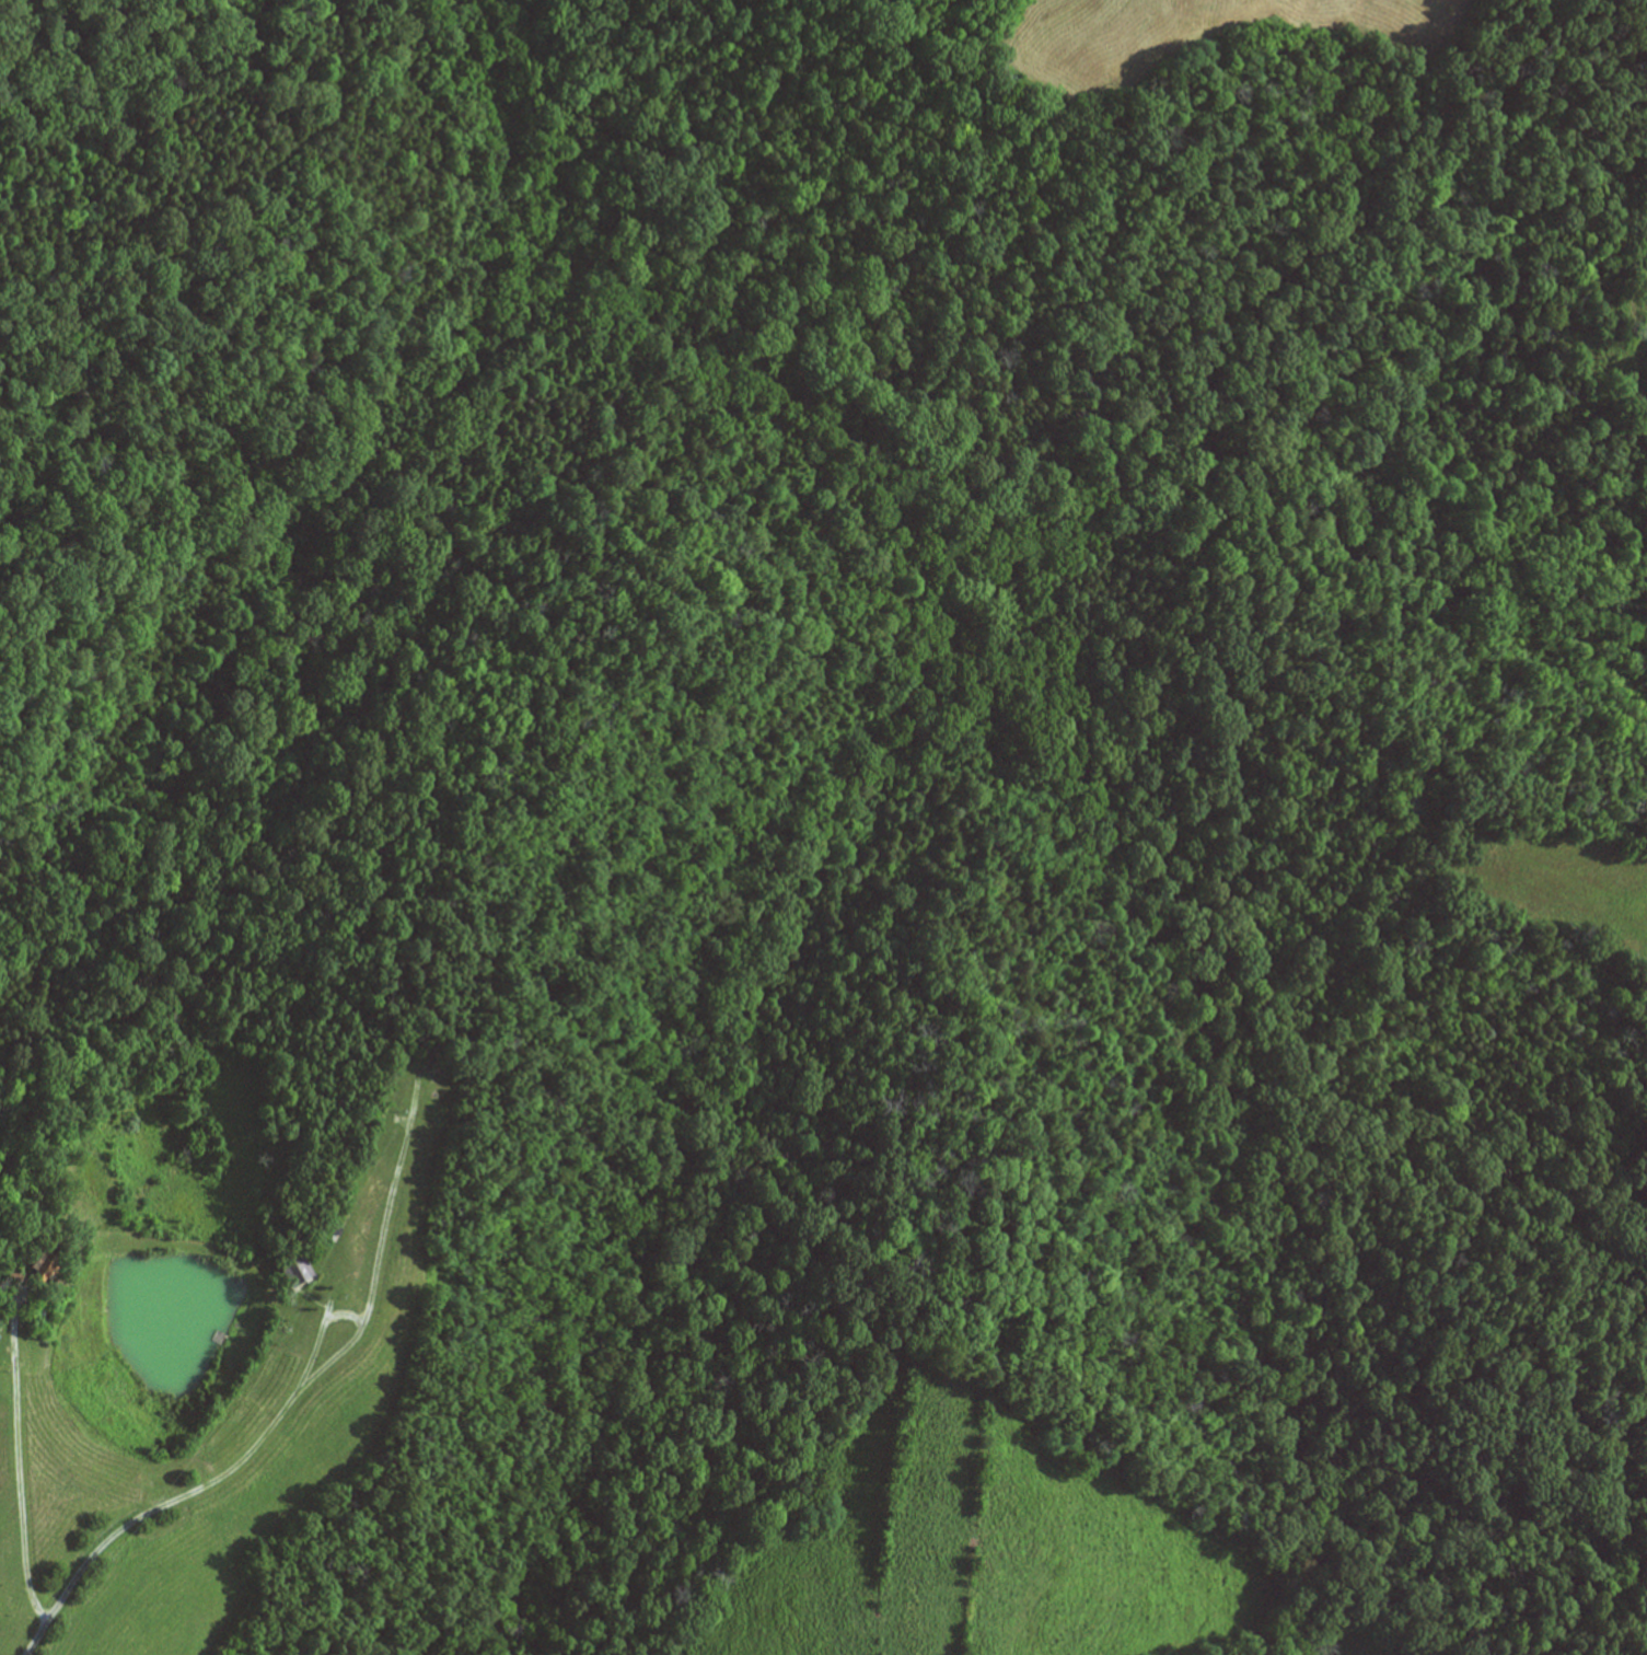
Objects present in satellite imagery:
building: (300, 1271)

